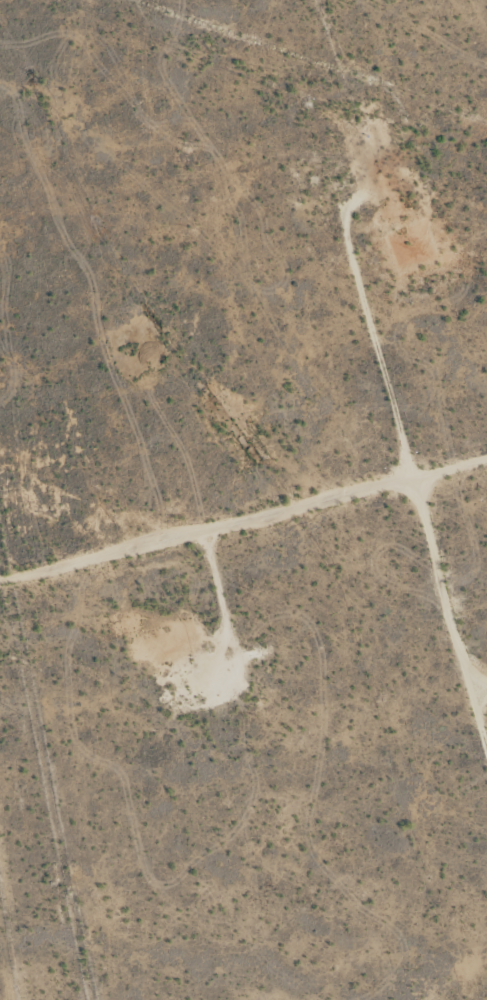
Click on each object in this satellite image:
road: (243, 512)

